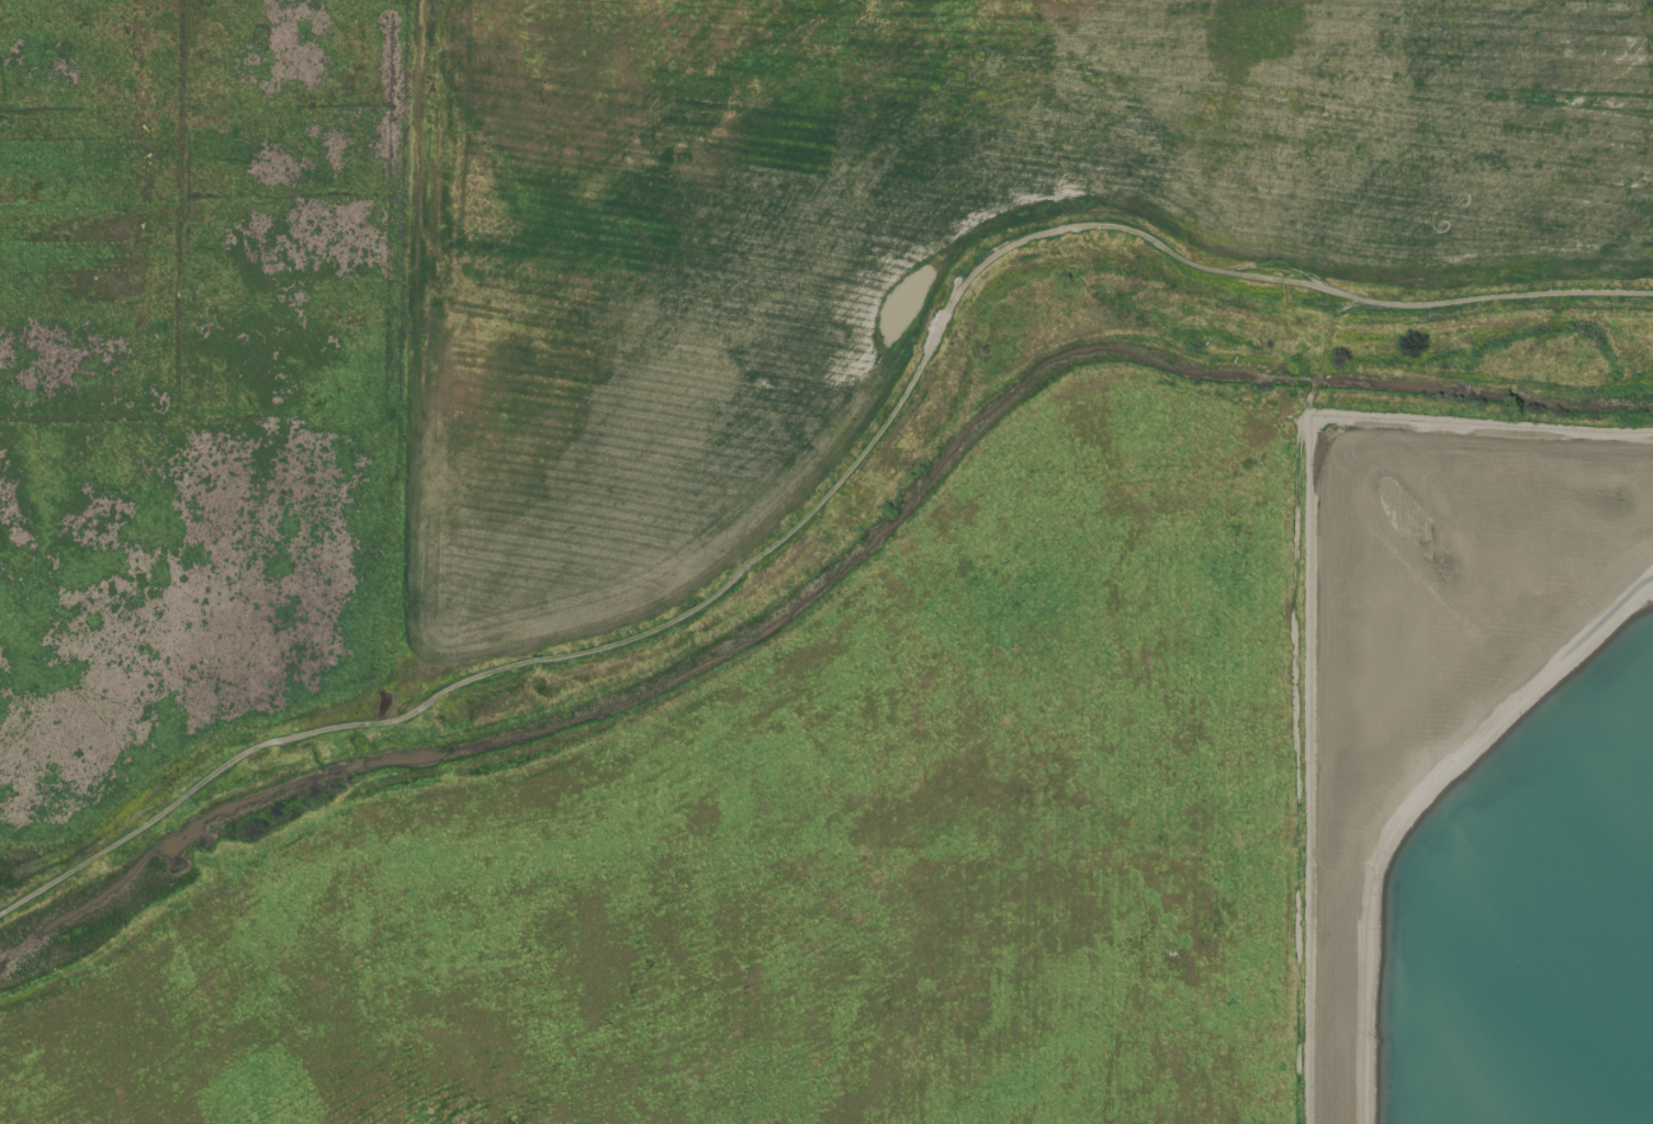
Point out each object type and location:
river: (833, 521)

